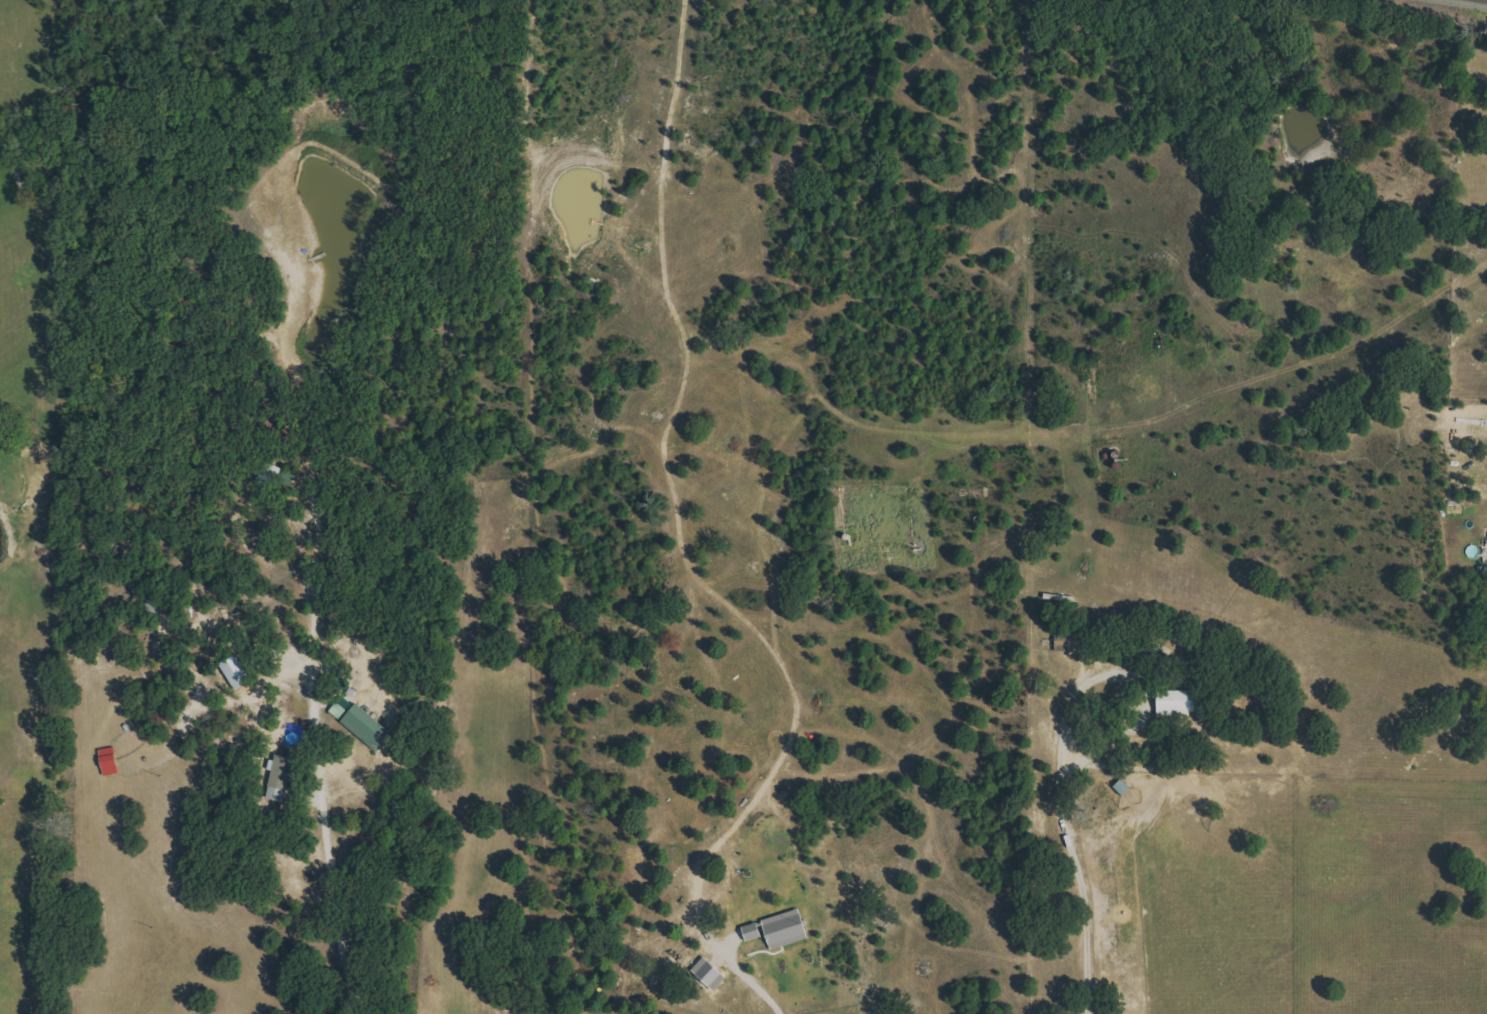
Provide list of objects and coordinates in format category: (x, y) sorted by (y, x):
railway: (1485, 0)
building: (269, 476)
building: (1065, 643)
building: (238, 672)
building: (1181, 702)
building: (368, 727)
road: (311, 747)
building: (283, 772)
building: (1124, 787)
road: (1073, 872)
building: (788, 929)
building: (755, 932)
building: (712, 973)
road: (752, 982)

